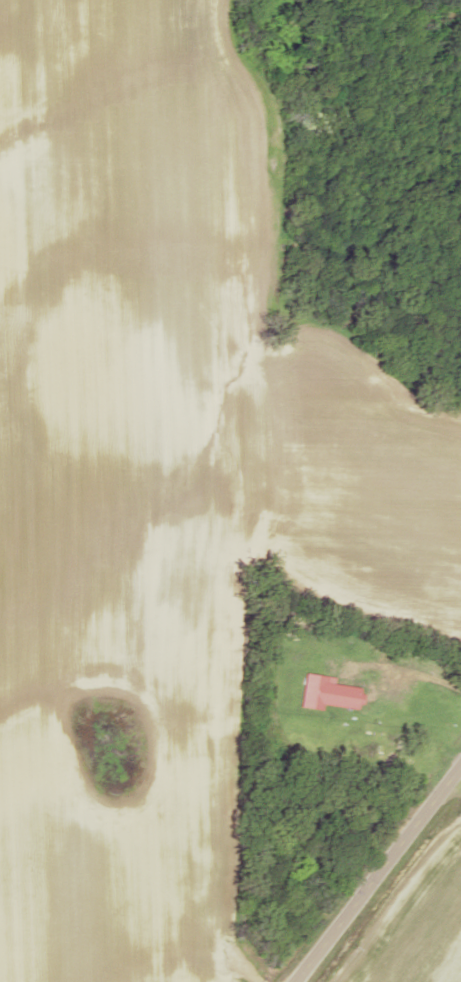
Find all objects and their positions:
building: (325, 692)
road: (375, 870)

